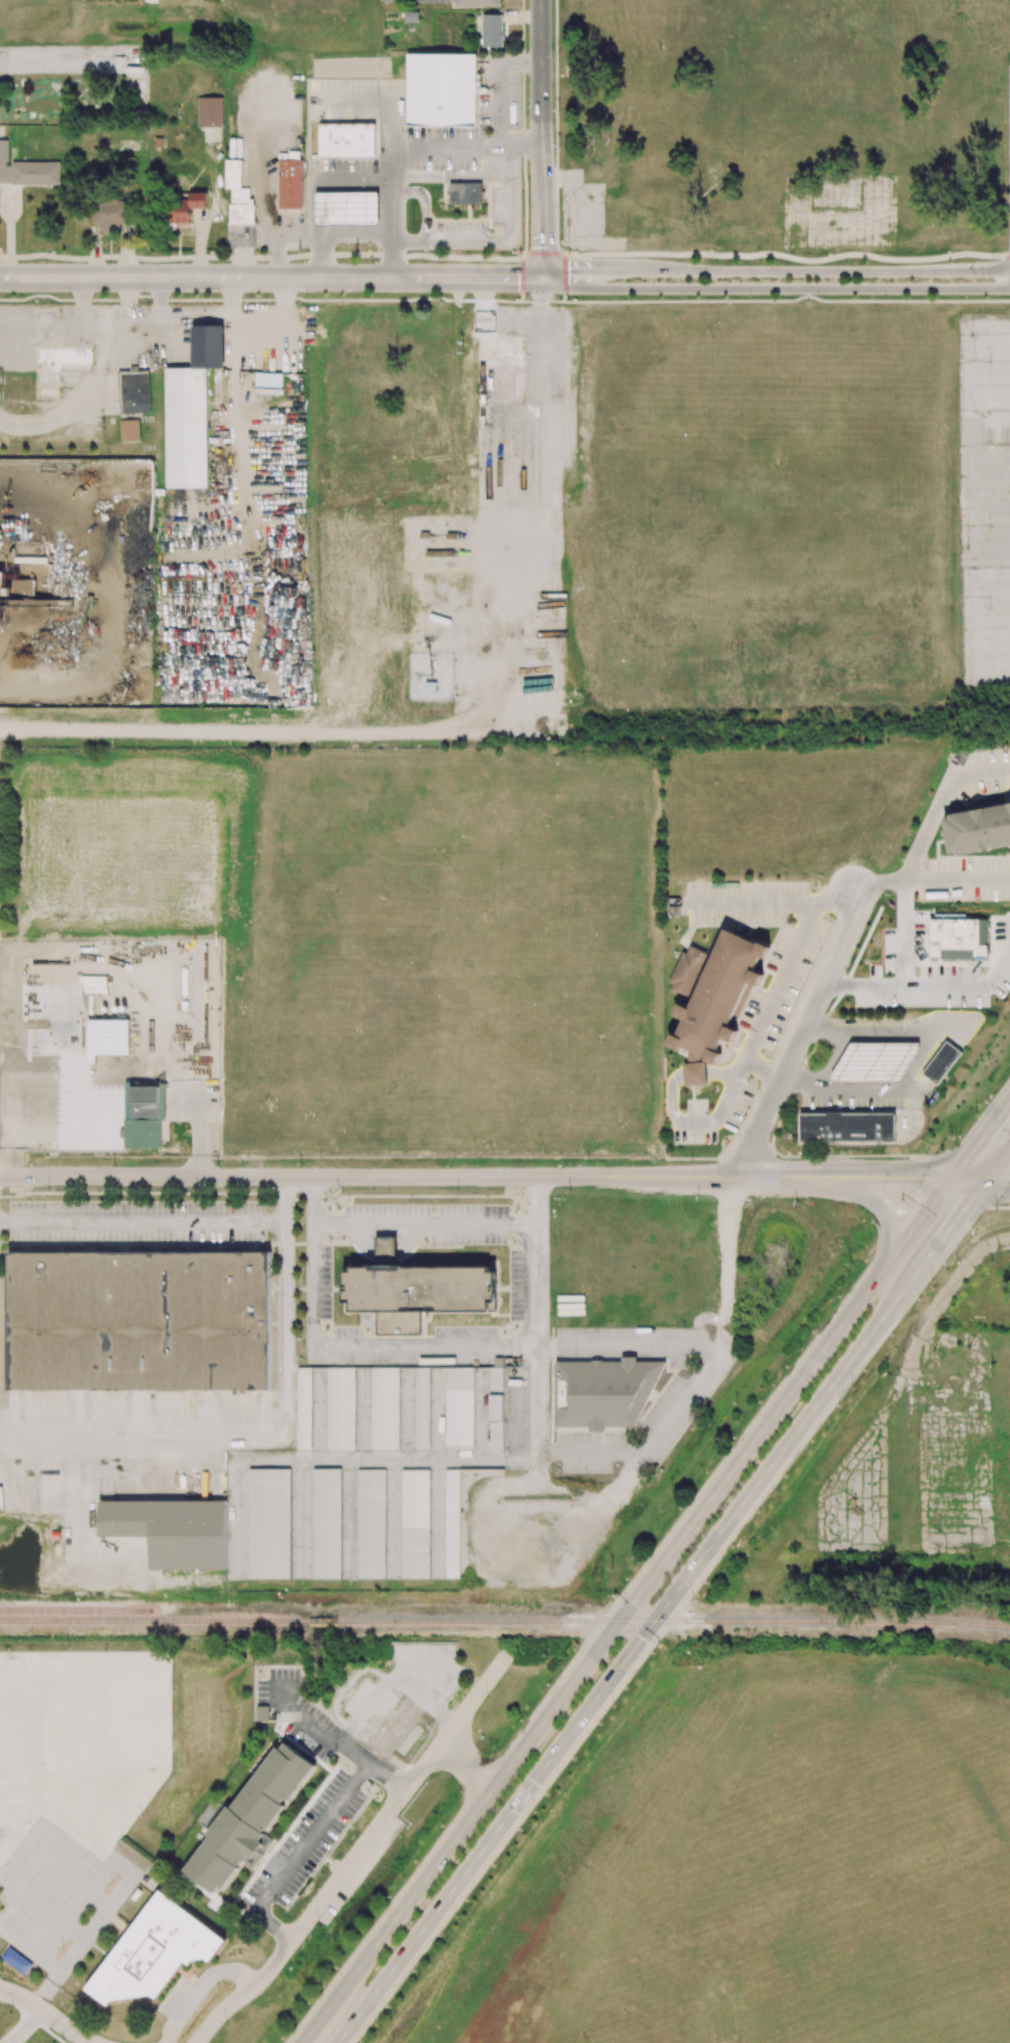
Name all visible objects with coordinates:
building: (476, 3)
building: (412, 16)
building: (492, 30)
road: (539, 59)
building: (442, 89)
building: (210, 112)
building: (346, 139)
road: (466, 148)
road: (393, 154)
road: (540, 158)
road: (266, 171)
building: (35, 173)
road: (353, 179)
building: (289, 183)
road: (505, 189)
building: (482, 193)
building: (465, 194)
building: (238, 195)
building: (346, 208)
building: (186, 210)
building: (110, 212)
road: (338, 237)
road: (541, 237)
road: (282, 240)
street lamp: (301, 248)
street lamp: (572, 251)
street lamp: (519, 252)
street lamp: (646, 257)
road: (507, 258)
street lamp: (992, 259)
street lamp: (358, 261)
street lamp: (265, 262)
street lamp: (422, 262)
street lamp: (715, 263)
street lamp: (779, 263)
street lamp: (922, 263)
street lamp: (846, 264)
road: (802, 271)
road: (196, 277)
road: (468, 278)
traffic signals: (542, 278)
road: (569, 278)
road: (801, 288)
street lamp: (305, 293)
street lamp: (391, 293)
street lamp: (466, 295)
street lamp: (612, 296)
street lamp: (749, 296)
street lamp: (818, 296)
street lamp: (885, 296)
street lamp: (525, 297)
street lamp: (681, 297)
street lamp: (952, 297)
street lamp: (568, 299)
building: (44, 323)
road: (542, 391)
road: (972, 418)
building: (187, 425)
building: (129, 430)
road: (990, 484)
parking lot: (984, 502)
building: (16, 584)
building: (430, 687)
road: (229, 732)
building: (978, 829)
road: (916, 852)
road: (751, 903)
building: (959, 939)
road: (902, 973)
building: (713, 990)
building: (70, 1035)
road: (803, 1036)
road: (870, 1036)
road: (754, 1037)
road: (832, 1062)
road: (917, 1062)
building: (874, 1063)
building: (942, 1063)
road: (886, 1088)
building: (143, 1115)
building: (847, 1127)
road: (981, 1141)
road: (996, 1165)
road: (491, 1177)
traffic signals: (952, 1180)
traffic signals: (982, 1184)
road: (996, 1184)
road: (878, 1205)
road: (143, 1219)
road: (423, 1222)
building: (421, 1288)
building: (139, 1320)
road: (534, 1334)
road: (627, 1344)
road: (342, 1345)
road: (702, 1375)
building: (603, 1391)
building: (352, 1404)
building: (496, 1404)
building: (422, 1408)
building: (459, 1408)
road: (768, 1422)
road: (268, 1434)
road: (795, 1434)
building: (269, 1523)
building: (327, 1523)
building: (371, 1523)
building: (415, 1524)
building: (452, 1524)
building: (171, 1530)
railway: (77, 1610)
railway: (328, 1620)
railway: (833, 1620)
road: (381, 1688)
road: (476, 1699)
building: (262, 1713)
road: (456, 1756)
road: (470, 1768)
building: (251, 1817)
road: (312, 1832)
road: (443, 1854)
building: (132, 1856)
road: (474, 1863)
road: (127, 1868)
road: (325, 1900)
building: (154, 1952)
building: (16, 1961)
road: (45, 2010)
road: (24, 2025)
road: (86, 2042)
road: (89, 2042)

